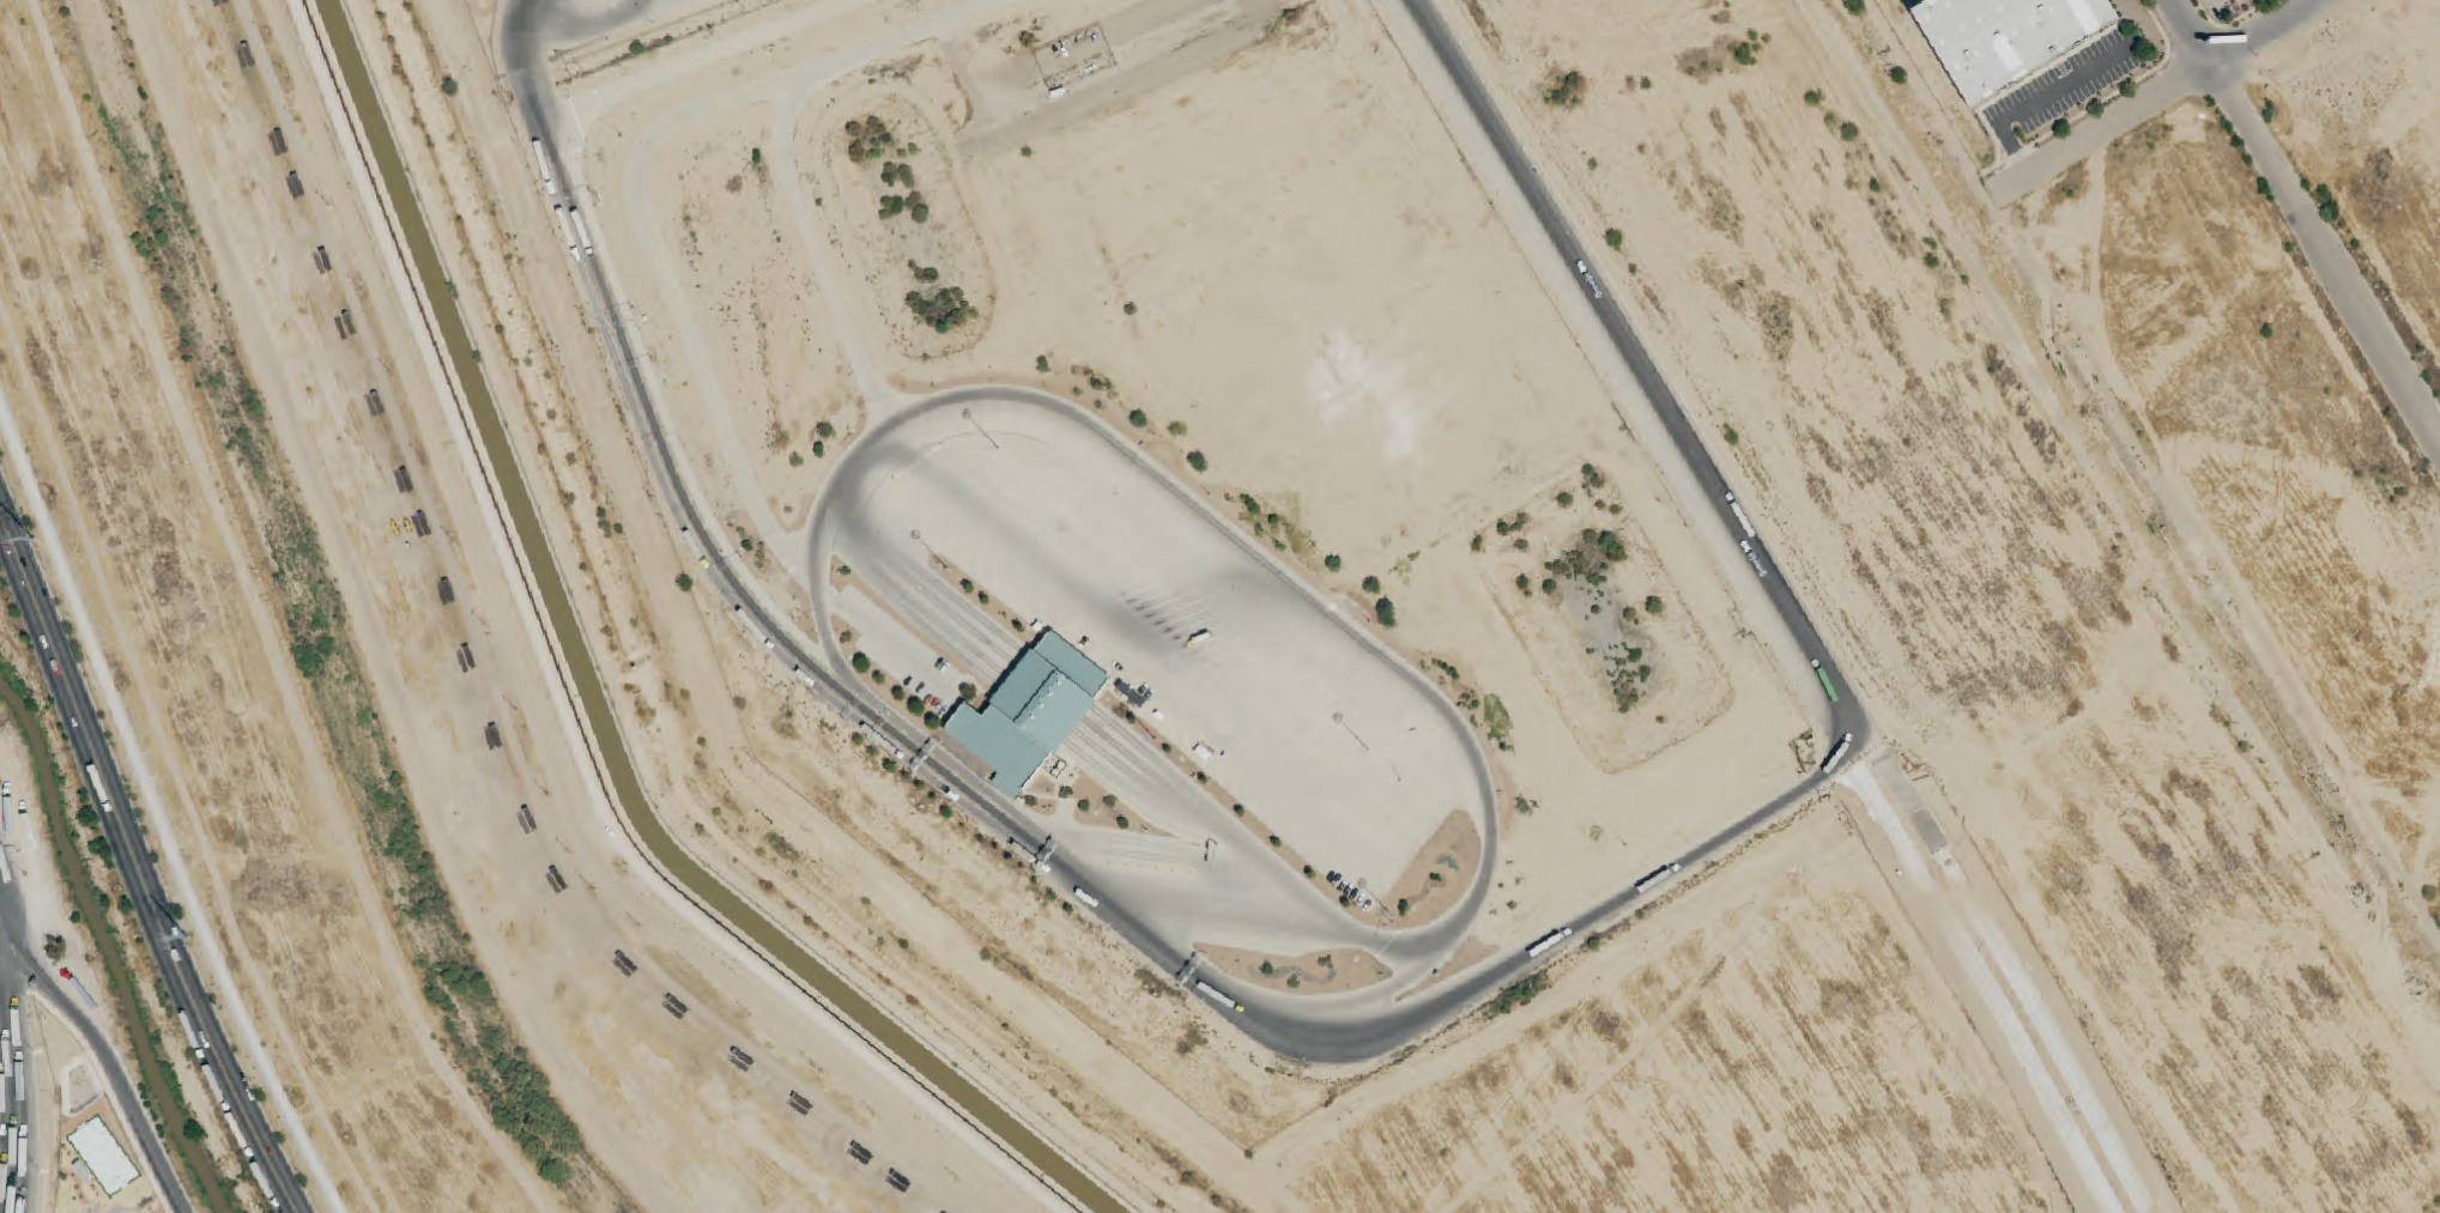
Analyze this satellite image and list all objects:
road: (593, 29)
building: (2003, 37)
road: (697, 60)
road: (2159, 98)
road: (2040, 99)
road: (2307, 224)
road: (806, 231)
road: (666, 279)
road: (1635, 376)
road: (637, 377)
power tower: (34, 536)
road: (1264, 557)
river: (307, 623)
road: (1137, 643)
road: (953, 650)
road: (975, 655)
road: (1011, 669)
building: (1031, 714)
road: (1107, 727)
road: (944, 772)
road: (170, 792)
road: (140, 871)
road: (1235, 920)
power tower: (188, 936)
road: (2016, 977)
road: (1984, 984)
road: (1445, 1003)
road: (110, 1063)
road: (11, 1103)

